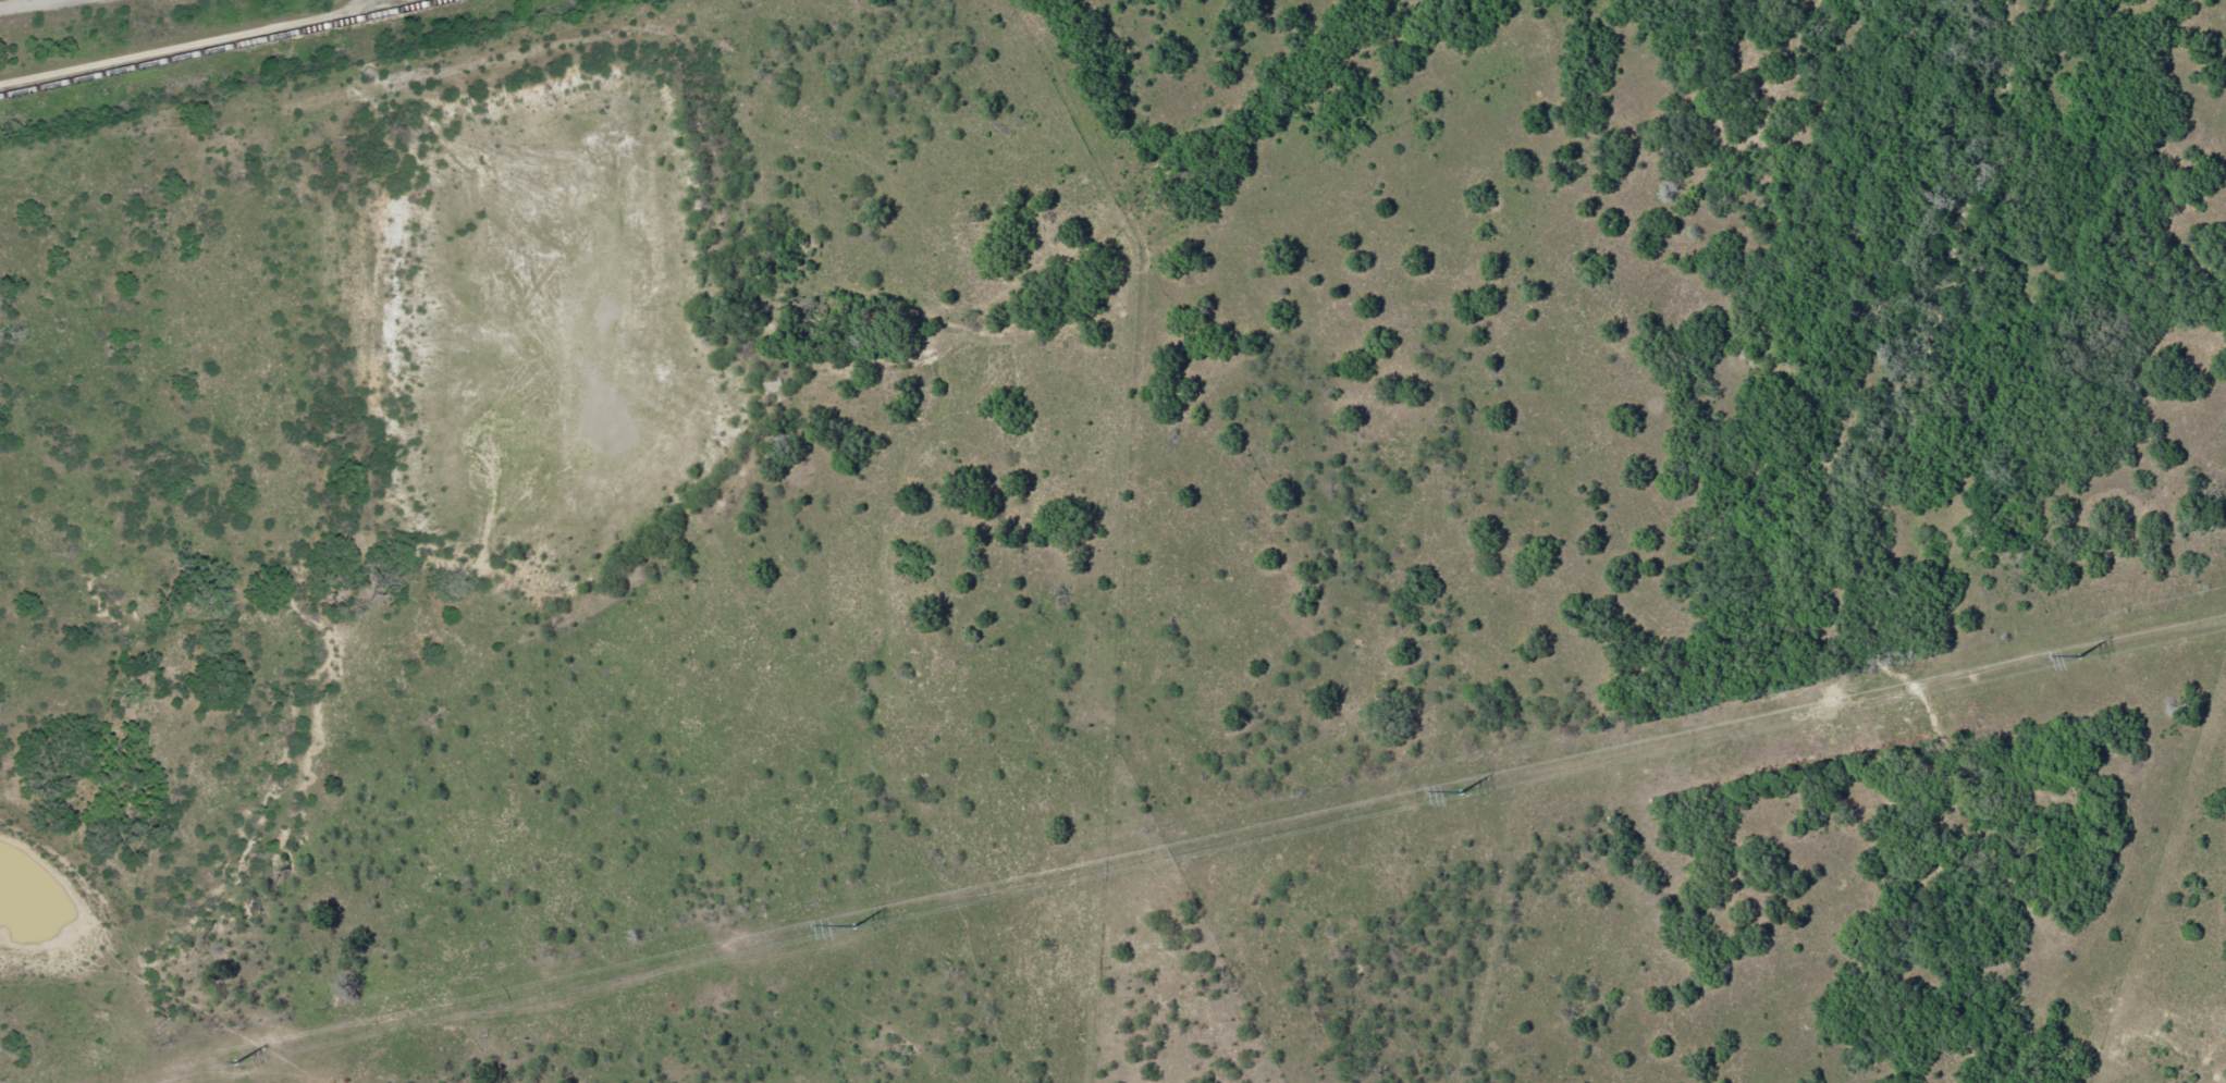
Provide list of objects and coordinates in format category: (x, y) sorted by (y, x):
railway: (213, 46)
power tower: (2079, 655)
power tower: (1460, 792)
power tower: (856, 925)
power tower: (236, 1061)

